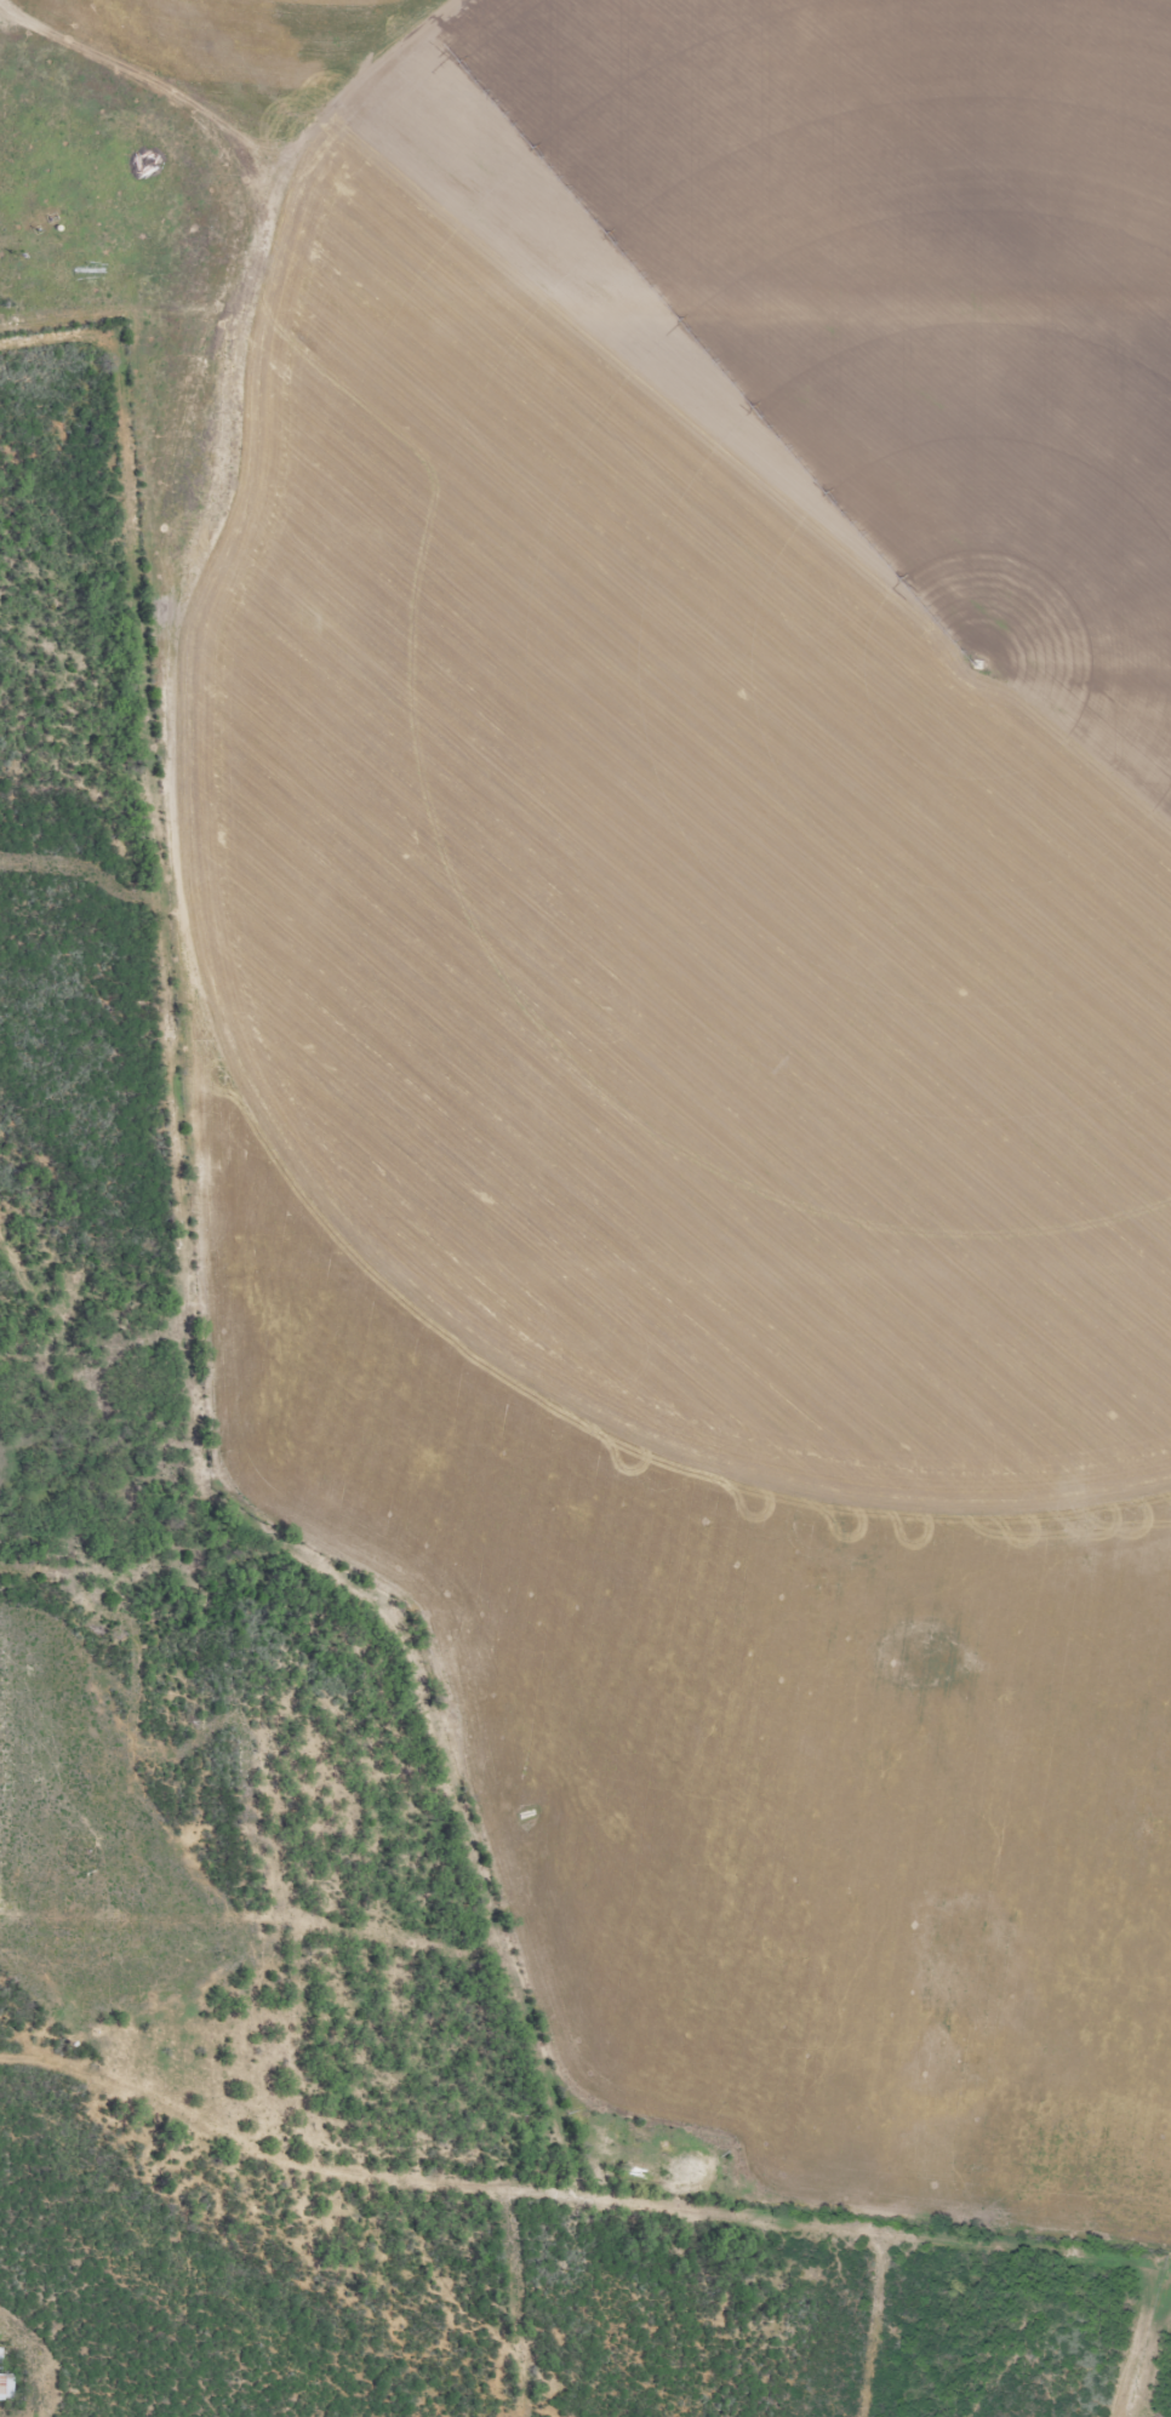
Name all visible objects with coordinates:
road: (182, 1178)
road: (604, 2202)
building: (1, 2358)
building: (7, 2387)

